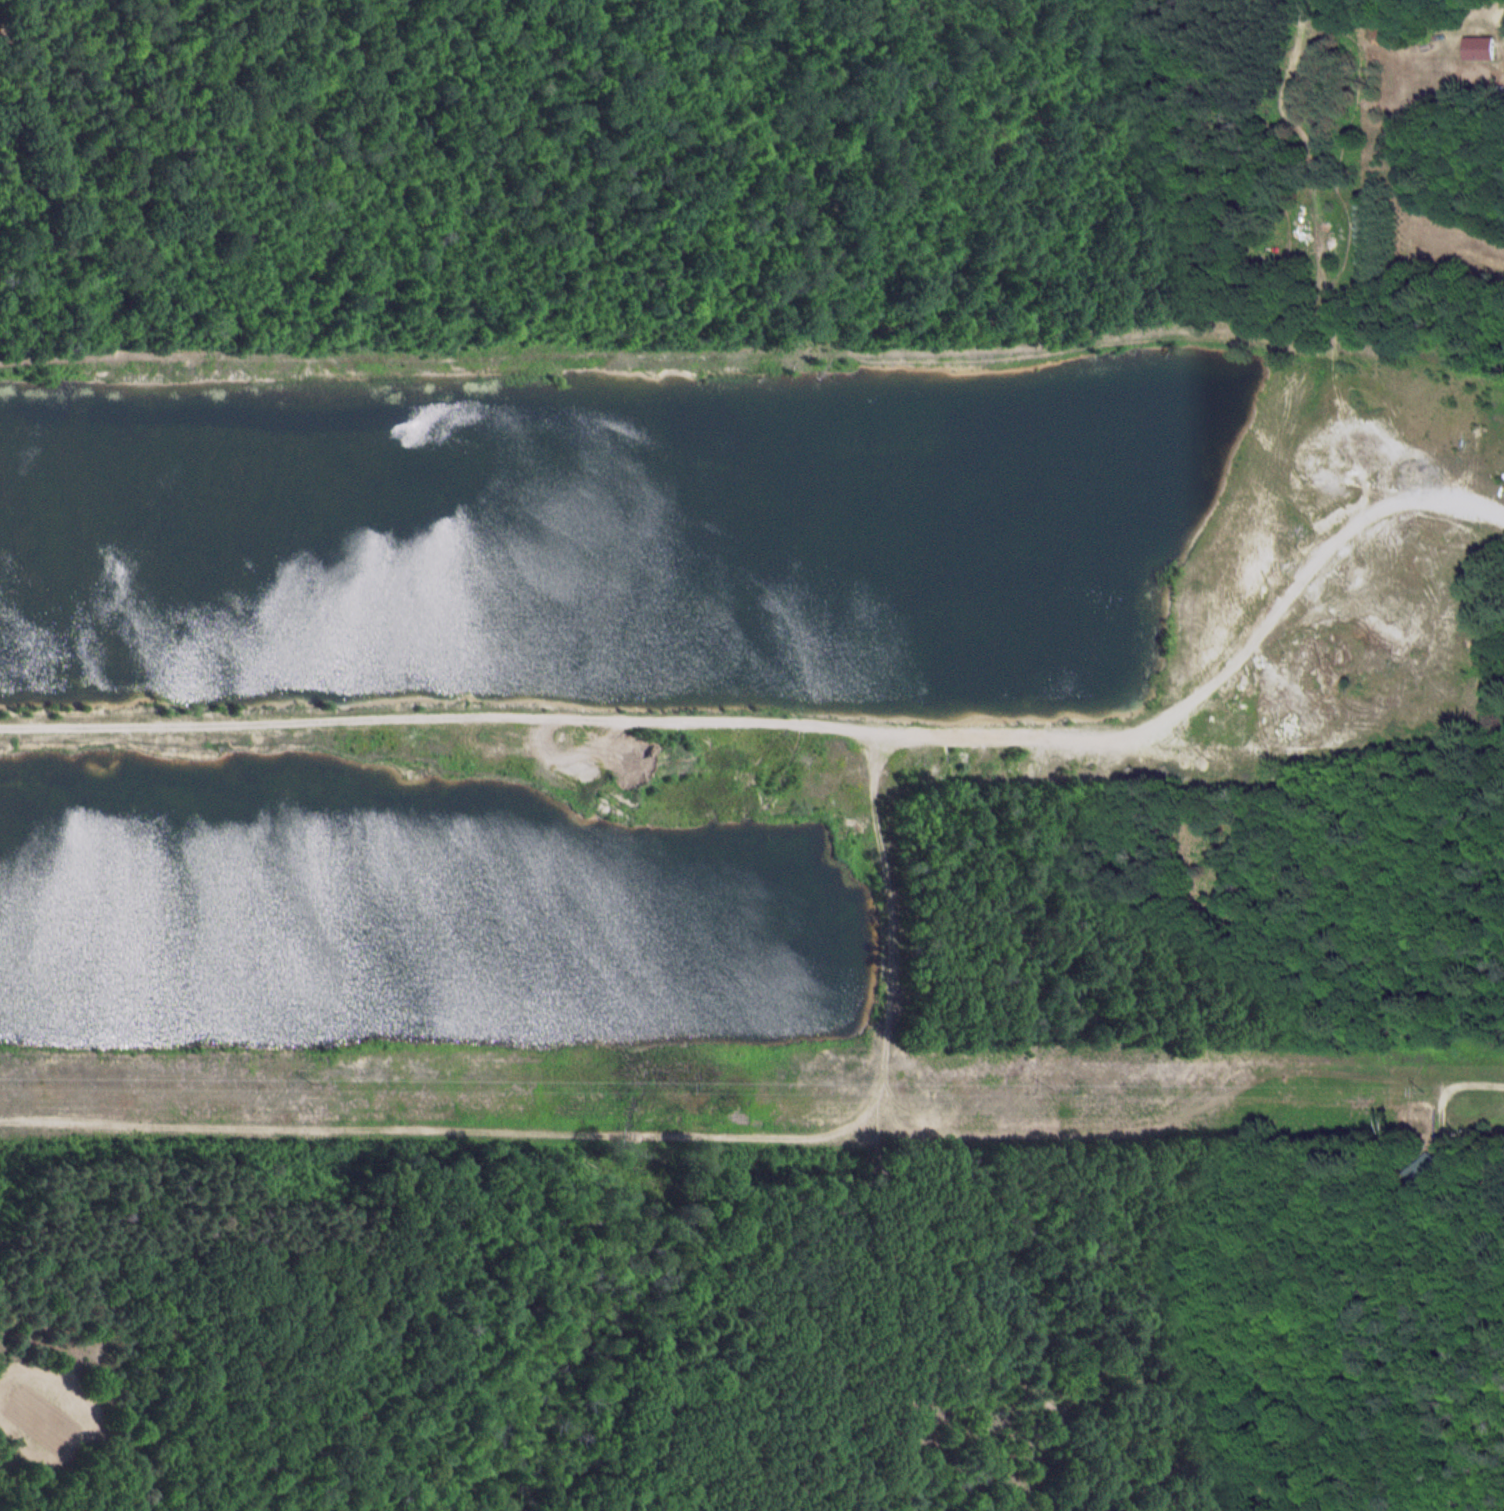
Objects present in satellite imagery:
building: (1484, 50)
road: (1459, 1086)
building: (1425, 1171)

